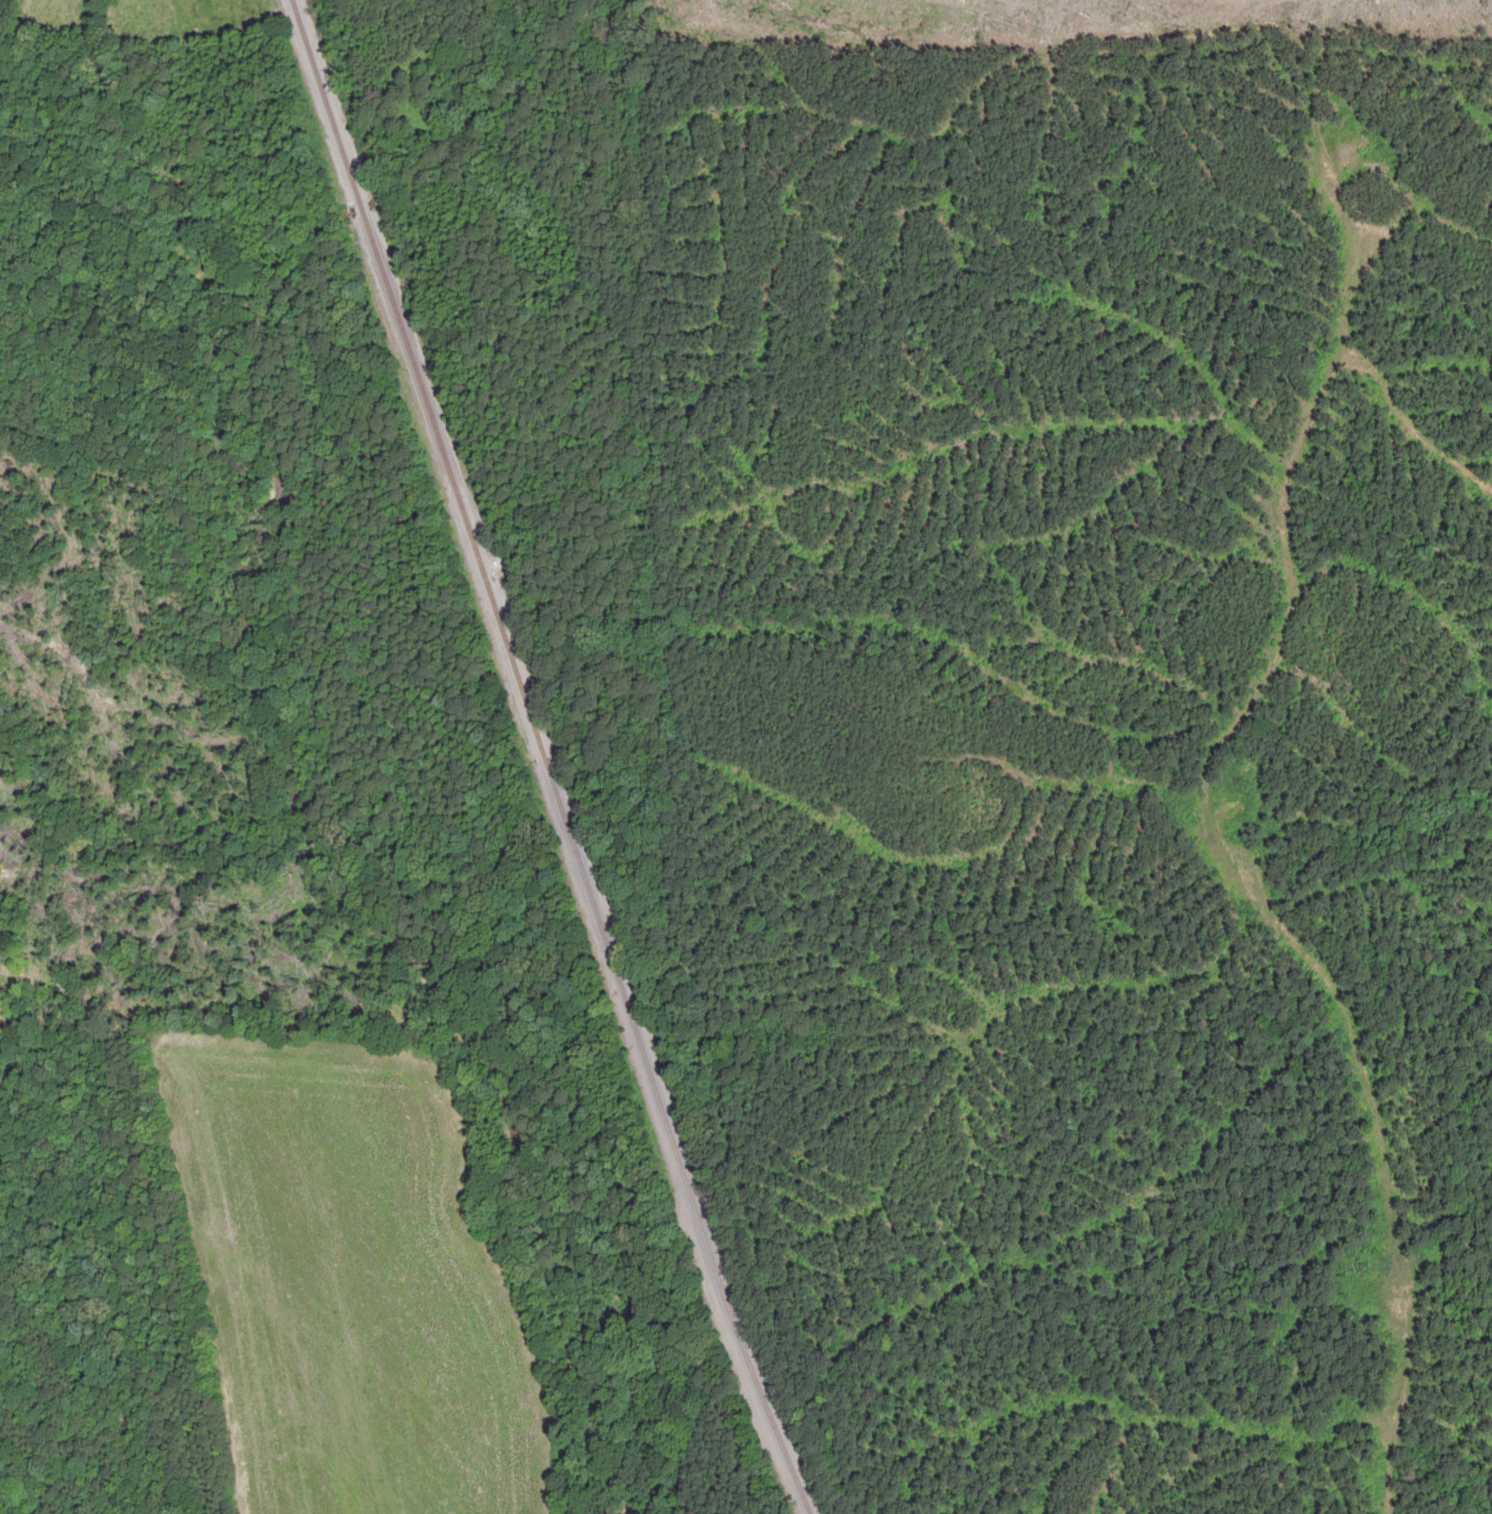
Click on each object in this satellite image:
railway: (535, 759)

